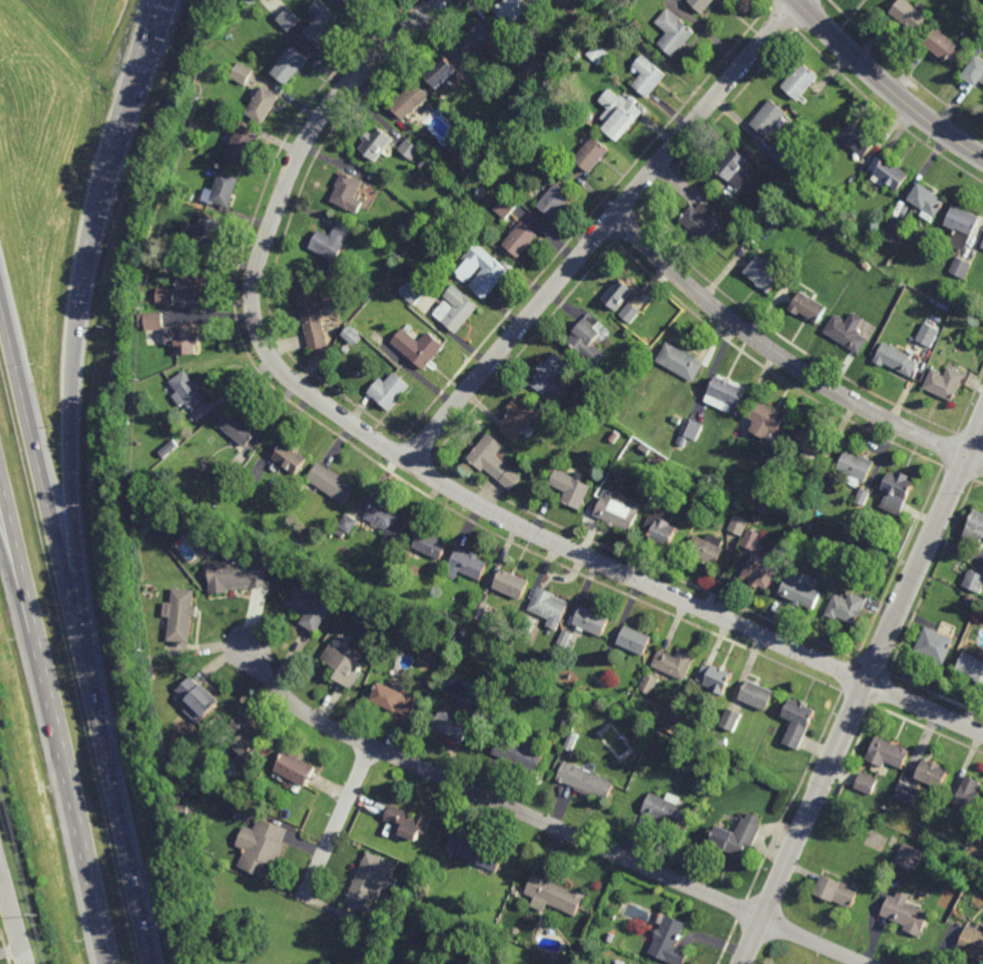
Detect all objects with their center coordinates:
building: (617, 1)
building: (360, 4)
building: (701, 4)
road: (159, 5)
building: (513, 10)
building: (911, 14)
building: (290, 18)
building: (326, 21)
building: (674, 32)
building: (477, 37)
building: (946, 44)
building: (598, 54)
road: (143, 56)
building: (292, 63)
building: (522, 63)
building: (974, 68)
building: (441, 69)
building: (241, 73)
building: (648, 76)
building: (545, 80)
building: (801, 80)
road: (885, 85)
building: (558, 86)
building: (409, 99)
building: (265, 102)
building: (619, 114)
building: (769, 116)
building: (575, 119)
building: (859, 140)
building: (375, 141)
building: (242, 143)
building: (489, 147)
building: (409, 149)
building: (434, 152)
building: (592, 154)
building: (784, 156)
building: (423, 163)
building: (732, 163)
building: (889, 172)
building: (225, 187)
building: (347, 191)
building: (553, 198)
building: (929, 200)
building: (506, 205)
road: (95, 211)
building: (837, 217)
building: (701, 219)
building: (895, 224)
building: (961, 225)
building: (204, 229)
road: (603, 231)
building: (890, 236)
building: (461, 237)
building: (521, 239)
building: (330, 241)
building: (982, 244)
building: (982, 246)
building: (877, 256)
building: (398, 257)
building: (885, 259)
building: (960, 266)
building: (766, 271)
building: (489, 277)
building: (193, 278)
building: (367, 290)
building: (410, 293)
building: (619, 293)
building: (364, 297)
building: (171, 303)
building: (810, 305)
building: (455, 309)
building: (310, 312)
building: (630, 313)
building: (152, 320)
building: (848, 331)
building: (352, 334)
building: (929, 334)
building: (184, 338)
building: (589, 339)
building: (418, 346)
building: (344, 349)
building: (897, 359)
building: (681, 362)
road: (785, 362)
building: (551, 375)
building: (944, 382)
building: (188, 389)
building: (388, 390)
building: (725, 394)
building: (124, 397)
building: (126, 411)
building: (571, 416)
building: (518, 418)
building: (767, 419)
building: (126, 420)
building: (676, 420)
building: (238, 429)
building: (689, 431)
building: (624, 441)
building: (812, 443)
building: (169, 449)
building: (645, 450)
building: (289, 459)
building: (493, 462)
building: (856, 468)
road: (423, 472)
building: (225, 477)
building: (329, 482)
building: (297, 488)
building: (572, 489)
building: (243, 490)
building: (755, 493)
building: (897, 493)
building: (863, 497)
building: (773, 500)
building: (763, 507)
building: (619, 510)
road: (71, 511)
building: (693, 511)
building: (170, 519)
building: (161, 520)
building: (385, 520)
building: (346, 523)
building: (738, 525)
building: (842, 526)
building: (975, 527)
building: (339, 532)
building: (662, 533)
building: (862, 534)
building: (750, 539)
building: (430, 545)
building: (707, 549)
building: (465, 565)
building: (759, 571)
building: (237, 576)
building: (974, 581)
building: (511, 584)
building: (800, 591)
building: (353, 596)
building: (969, 600)
building: (549, 605)
building: (374, 606)
building: (308, 608)
building: (846, 608)
building: (479, 610)
building: (464, 613)
building: (182, 615)
building: (592, 621)
building: (525, 624)
road: (26, 625)
road: (73, 629)
building: (388, 632)
building: (565, 639)
building: (634, 640)
building: (934, 646)
building: (150, 662)
building: (674, 663)
building: (343, 665)
building: (971, 667)
building: (149, 676)
building: (714, 678)
building: (649, 684)
road: (863, 691)
building: (757, 696)
building: (395, 699)
building: (198, 700)
building: (491, 708)
road: (53, 715)
building: (730, 719)
building: (675, 720)
building: (565, 721)
building: (798, 723)
building: (453, 726)
building: (247, 737)
building: (570, 742)
building: (721, 742)
building: (651, 744)
building: (519, 752)
building: (887, 755)
building: (173, 759)
power tower: (1, 768)
building: (172, 768)
building: (296, 769)
building: (934, 775)
building: (585, 781)
building: (867, 785)
building: (907, 794)
building: (968, 802)
building: (183, 810)
building: (665, 810)
building: (982, 821)
building: (409, 822)
road: (542, 822)
road: (338, 824)
building: (738, 835)
building: (894, 842)
building: (264, 848)
building: (475, 852)
building: (908, 856)
building: (929, 866)
building: (367, 882)
building: (838, 890)
building: (514, 894)
building: (554, 895)
building: (906, 913)
power tower: (38, 914)
road: (12, 917)
building: (611, 918)
building: (514, 931)
building: (424, 933)
building: (610, 938)
building: (669, 940)
building: (971, 942)
road: (10, 950)

